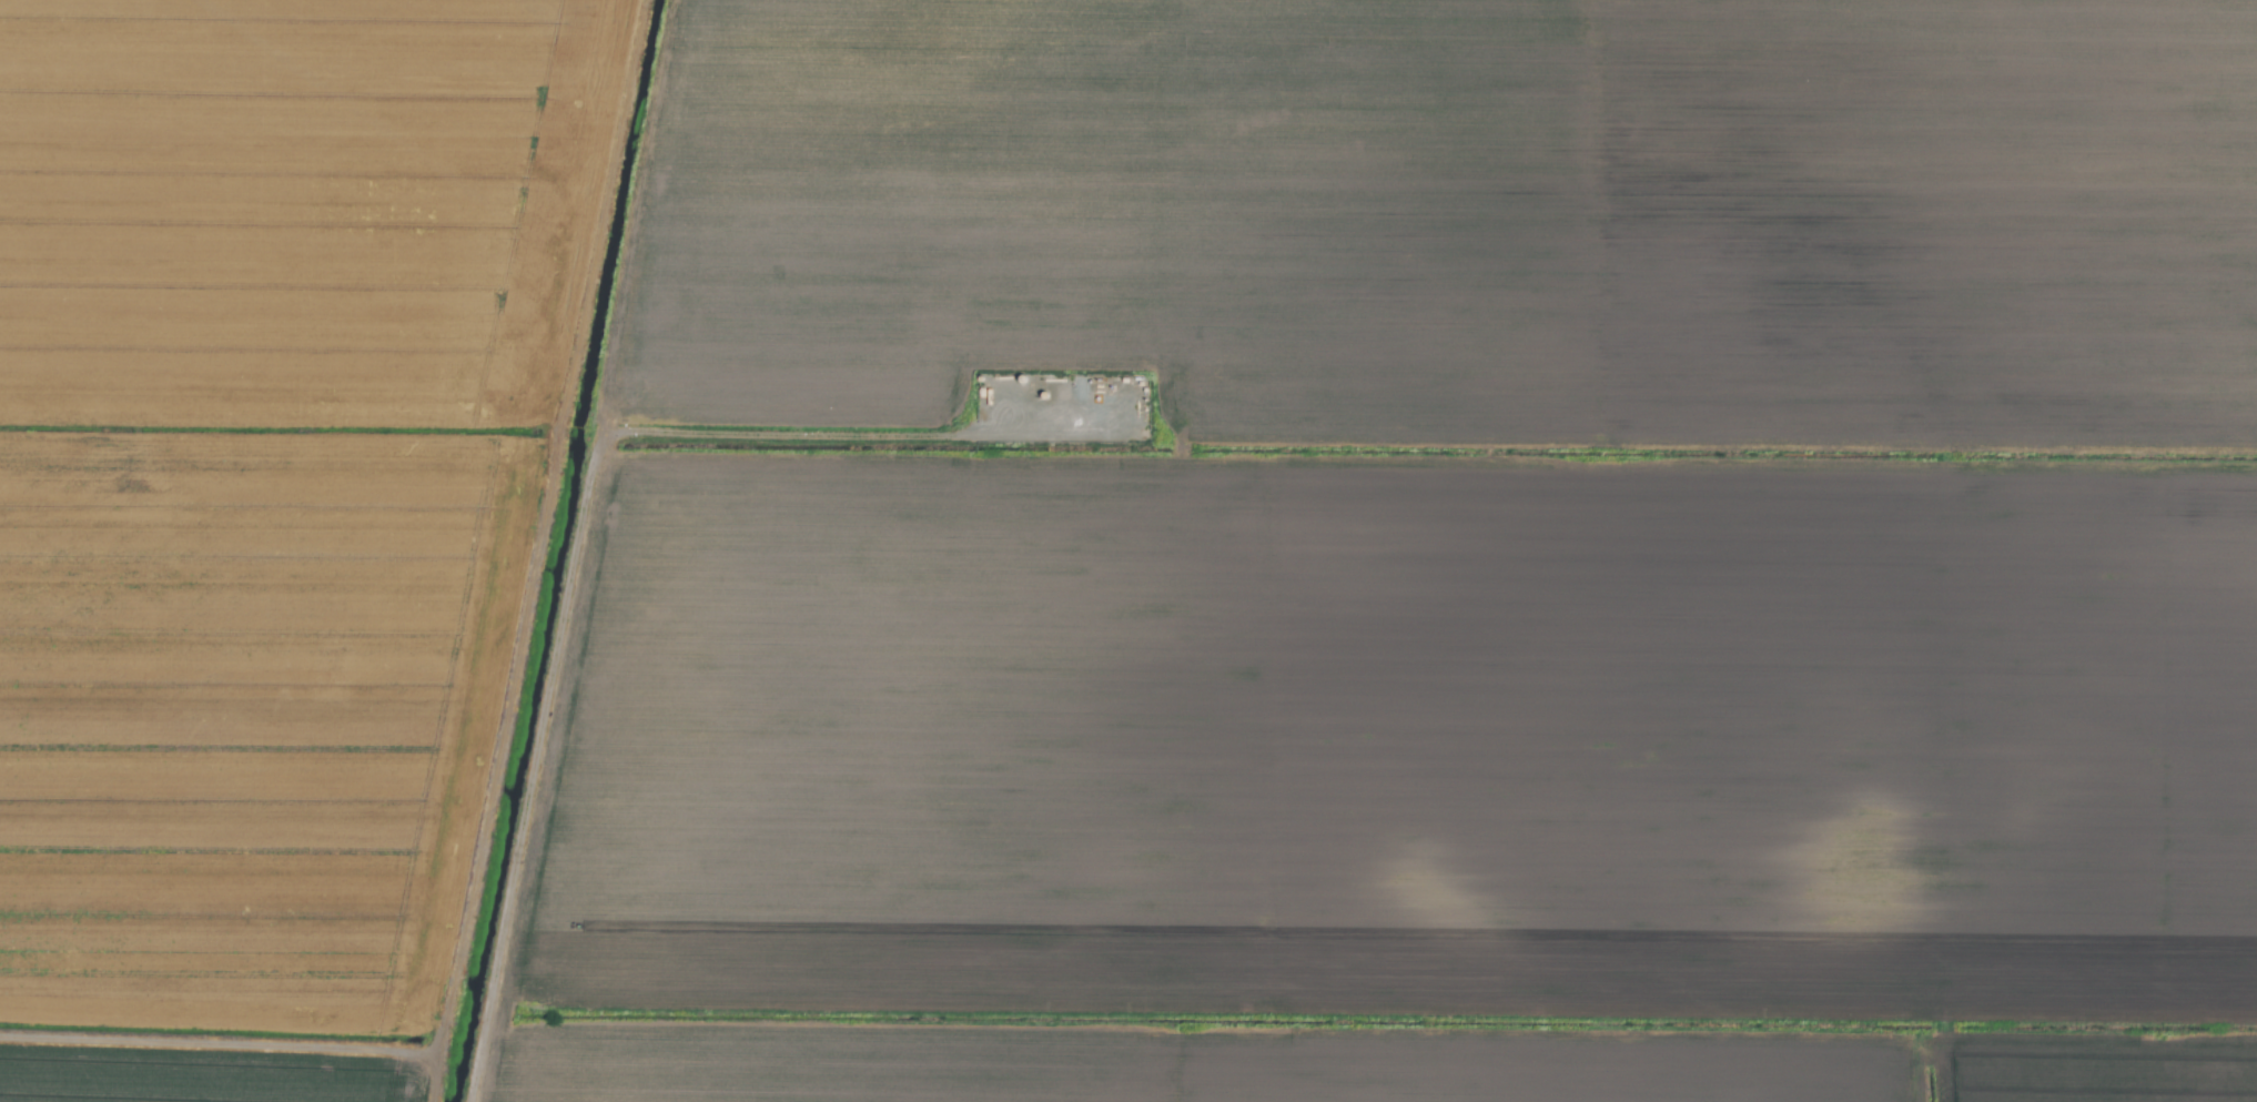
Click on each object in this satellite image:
crop: (1128, 550)
road: (217, 1053)

